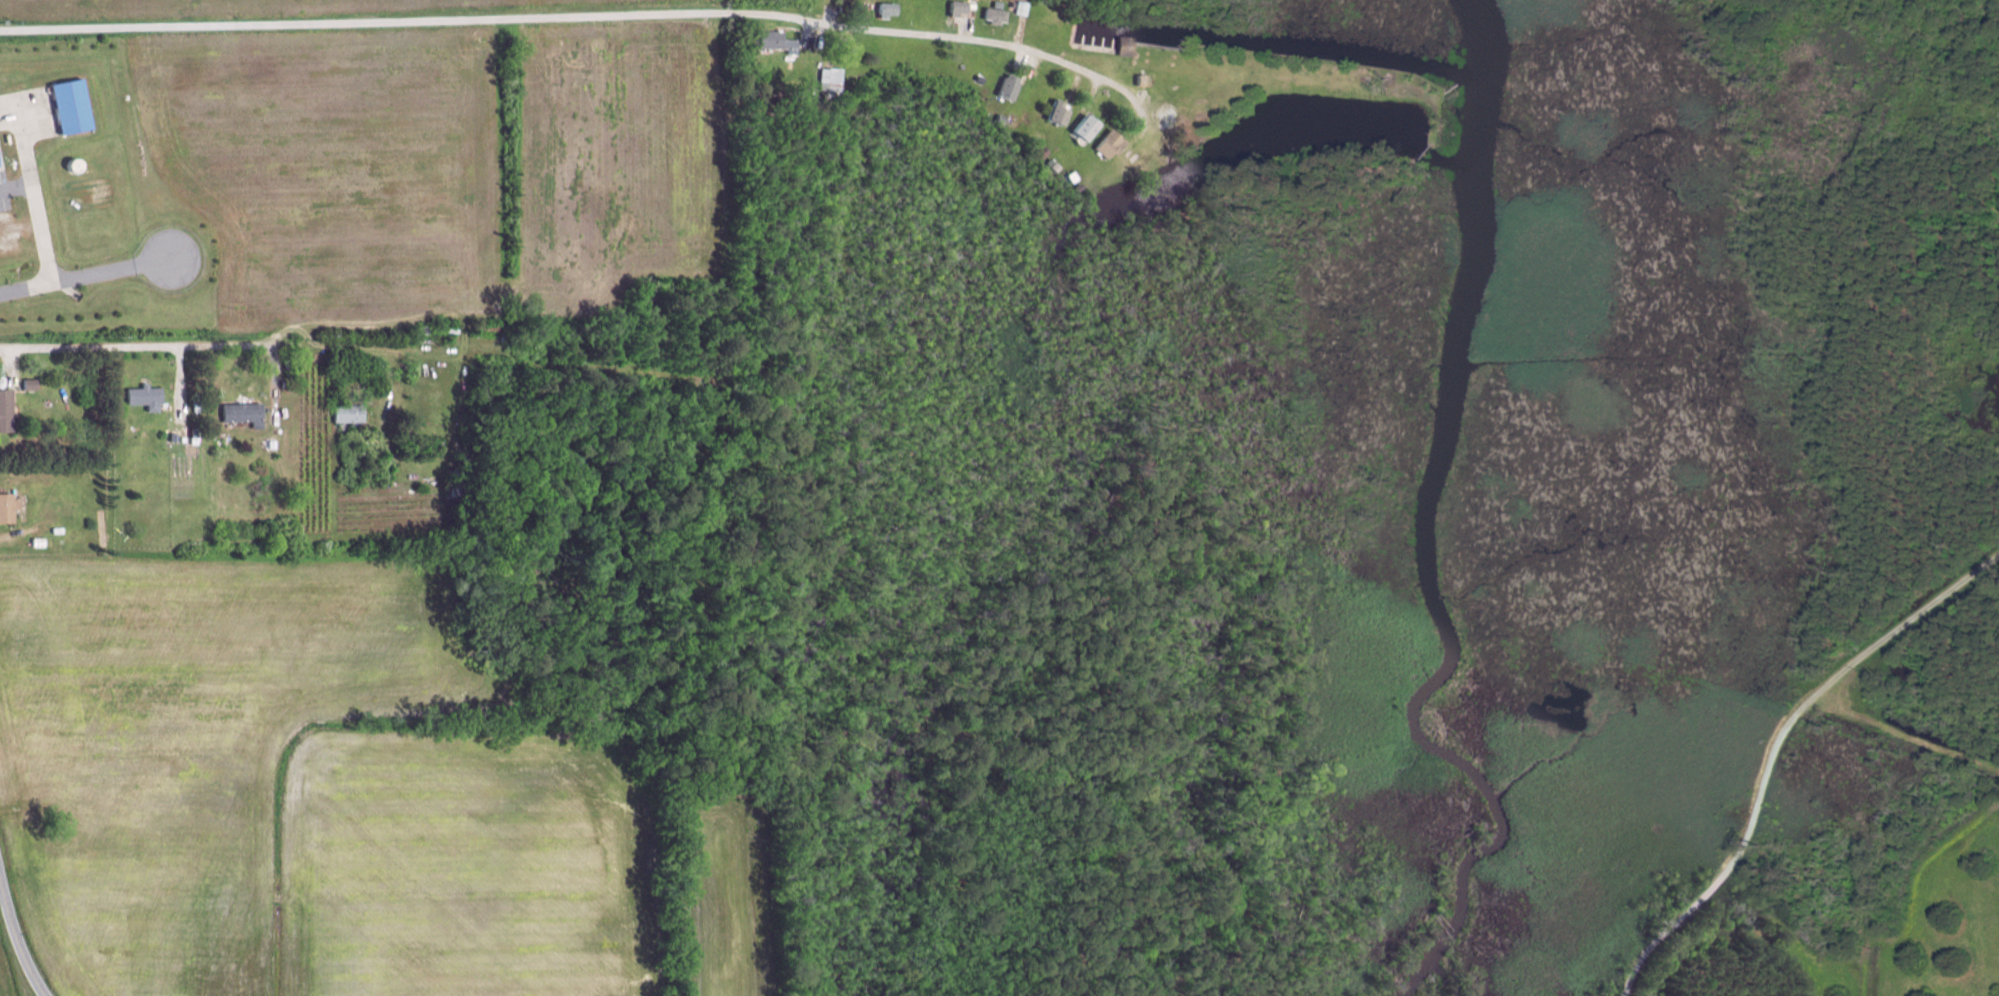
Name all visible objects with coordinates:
building: (849, 4)
crop: (225, 6)
building: (862, 7)
building: (1020, 7)
building: (889, 9)
building: (953, 9)
building: (991, 13)
road: (579, 15)
road: (832, 15)
road: (965, 27)
road: (1018, 32)
road: (812, 34)
pier: (1081, 40)
building: (777, 41)
pier: (1092, 42)
pier: (1102, 43)
pier: (1111, 44)
building: (1122, 46)
road: (1024, 60)
building: (976, 80)
road: (1066, 80)
building: (1140, 80)
building: (831, 82)
building: (1004, 88)
road: (1092, 92)
building: (781, 100)
building: (72, 105)
building: (1054, 113)
building: (997, 119)
road: (1136, 124)
building: (1083, 128)
building: (1106, 144)
building: (1038, 153)
crop: (621, 161)
building: (77, 164)
storage tank: (77, 164)
building: (1049, 165)
crop: (334, 168)
building: (1068, 176)
road: (16, 186)
road: (32, 186)
building: (1075, 188)
parking lot: (4, 192)
road: (85, 275)
building: (490, 326)
building: (422, 330)
road: (138, 345)
road: (347, 347)
road: (435, 357)
road: (9, 366)
road: (182, 382)
road: (277, 382)
building: (32, 385)
building: (145, 397)
building: (7, 411)
building: (350, 412)
building: (245, 414)
building: (196, 435)
building: (175, 436)
building: (273, 444)
building: (455, 490)
building: (8, 508)
road: (9, 537)
building: (39, 542)
road: (1902, 738)
crop: (193, 743)
road: (1774, 748)
crop: (463, 865)
road: (1910, 898)
crop: (727, 901)
road: (16, 940)

